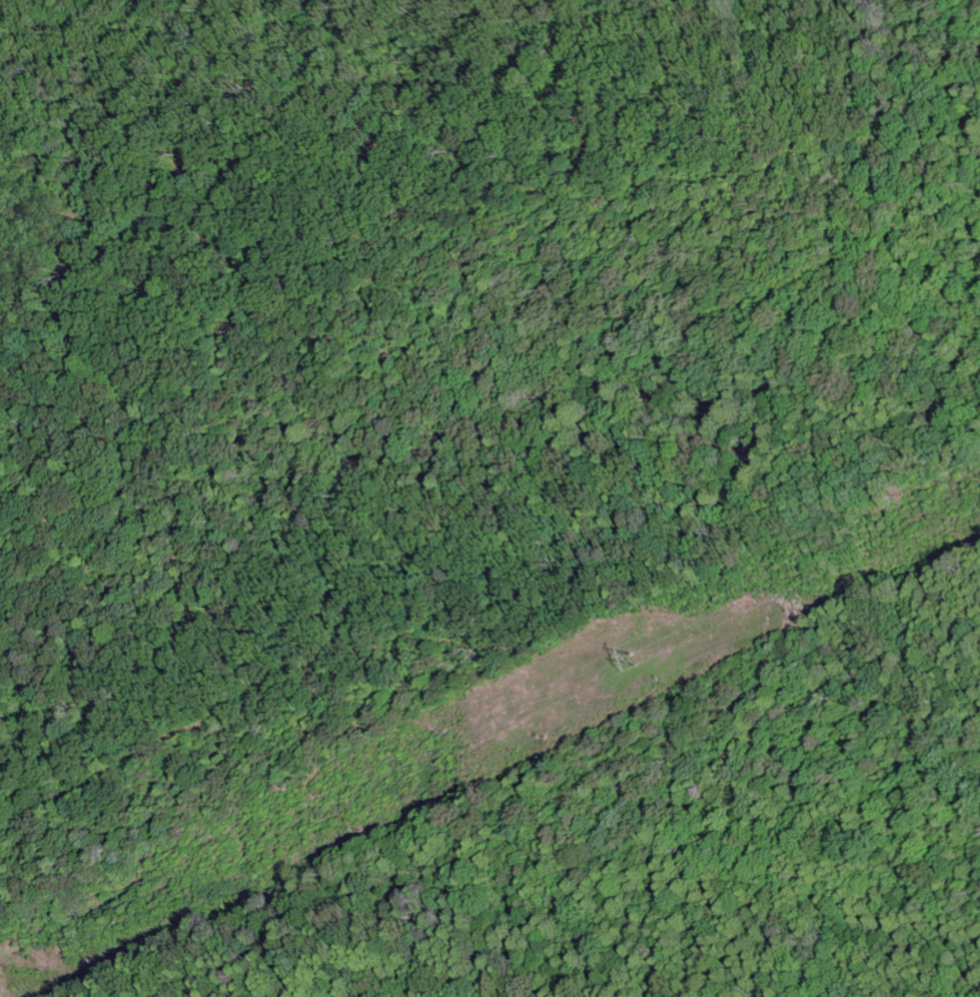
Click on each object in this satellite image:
power tower: (628, 662)

